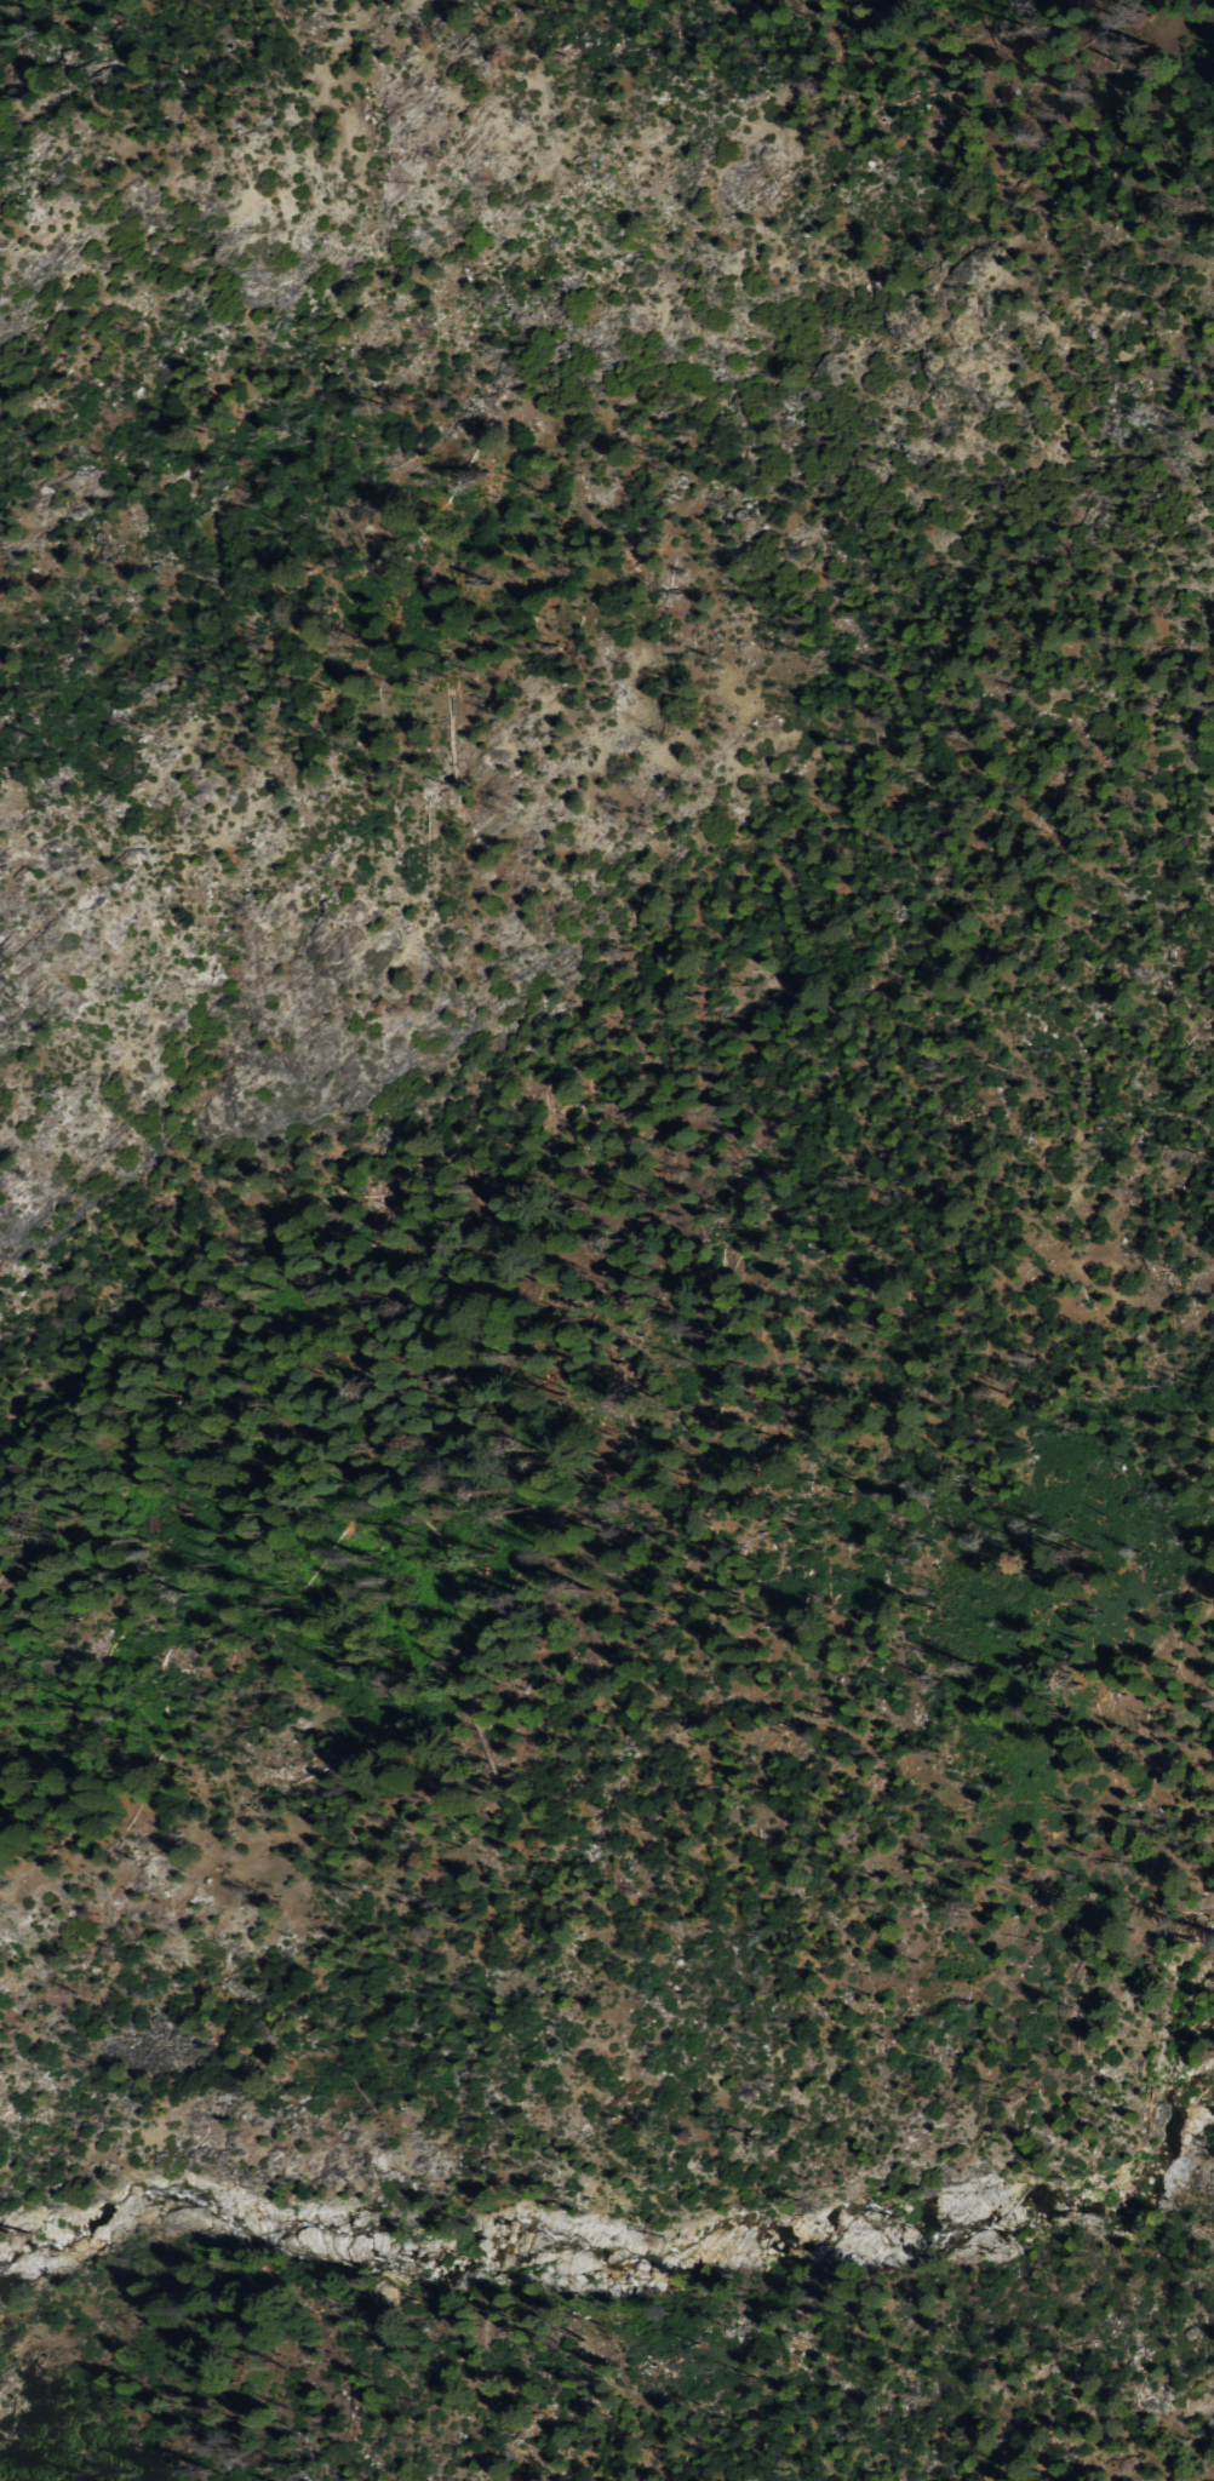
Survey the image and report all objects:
road: (1159, 2440)

